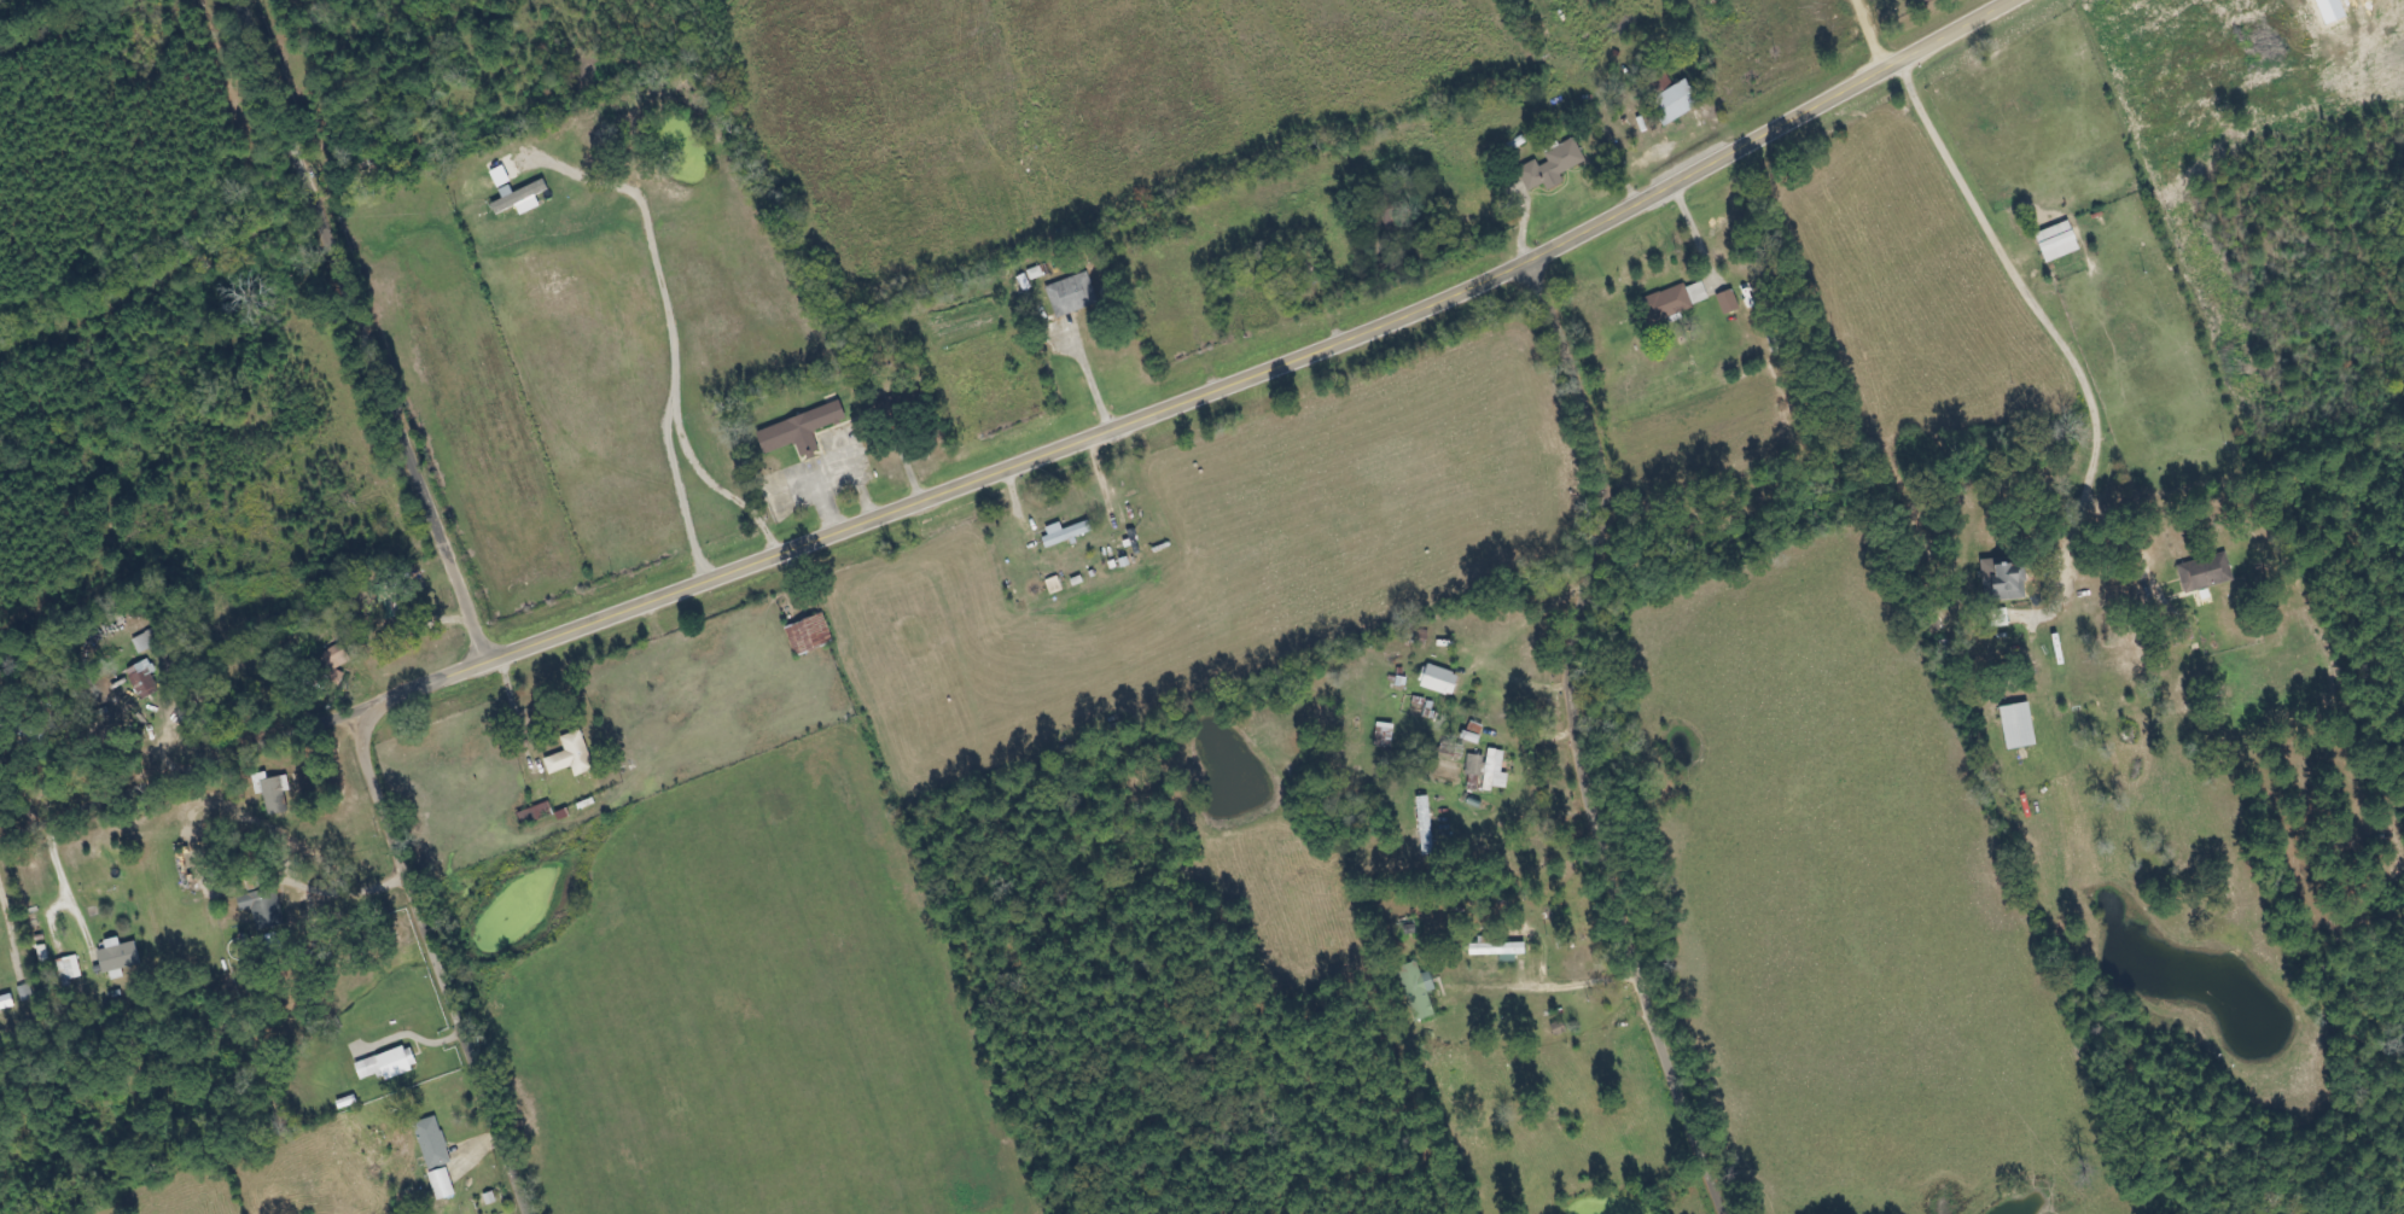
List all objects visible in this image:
building: (1674, 104)
building: (1552, 165)
building: (520, 197)
building: (2056, 243)
building: (1072, 294)
building: (1674, 300)
building: (1728, 300)
road: (359, 329)
road: (1263, 366)
building: (799, 430)
building: (1065, 533)
building: (2205, 572)
building: (2001, 580)
building: (809, 634)
building: (146, 642)
building: (333, 666)
building: (144, 678)
building: (1439, 679)
building: (2018, 725)
road: (1576, 740)
road: (243, 747)
building: (571, 755)
building: (1474, 764)
building: (1495, 771)
building: (270, 792)
building: (1425, 824)
building: (1497, 949)
building: (117, 957)
road: (433, 961)
building: (70, 969)
building: (1418, 990)
building: (6, 1003)
building: (388, 1064)
building: (432, 1143)
building: (441, 1184)

